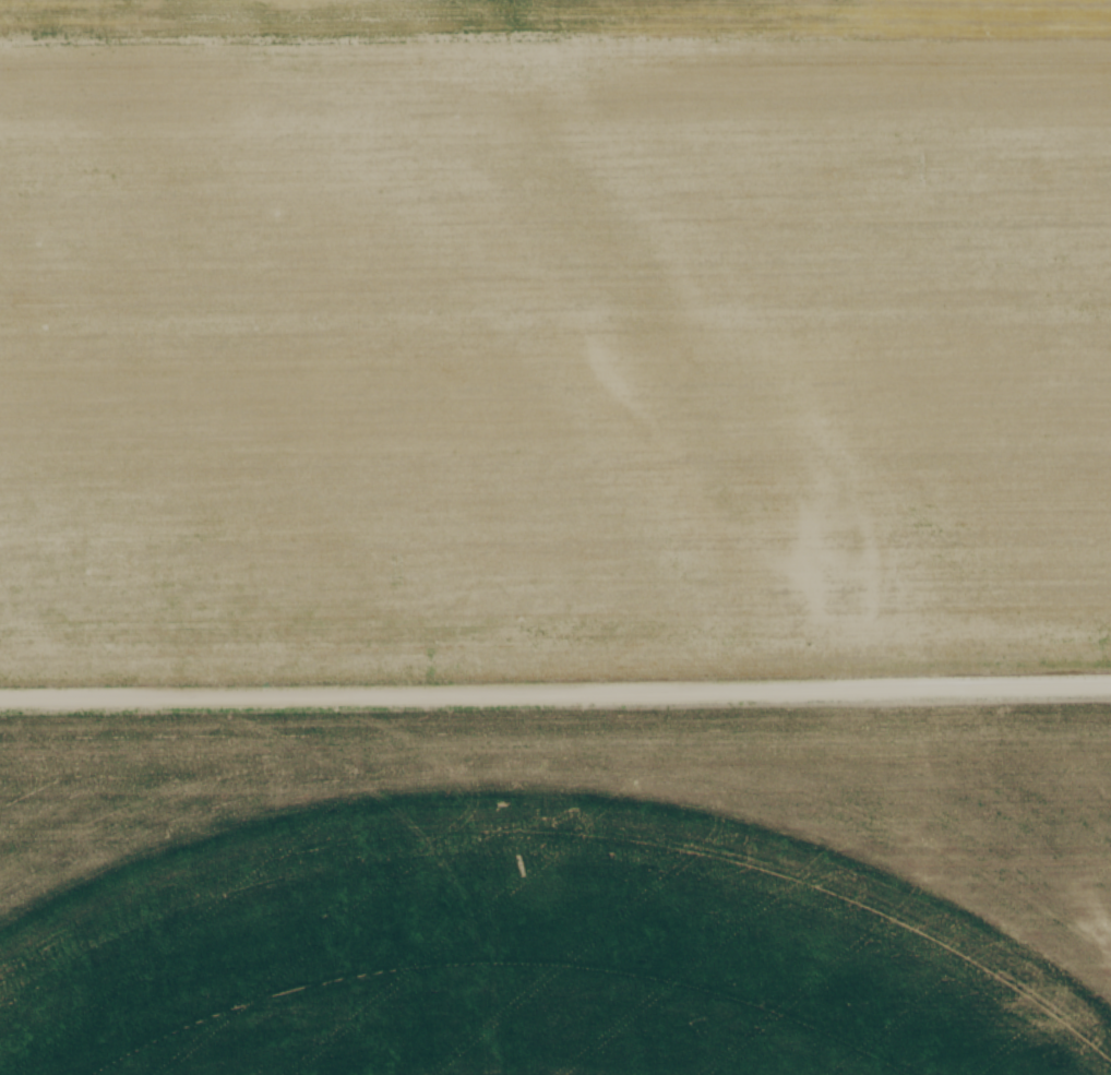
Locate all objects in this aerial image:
crop: (553, 335)
road: (554, 690)
crop: (559, 893)

